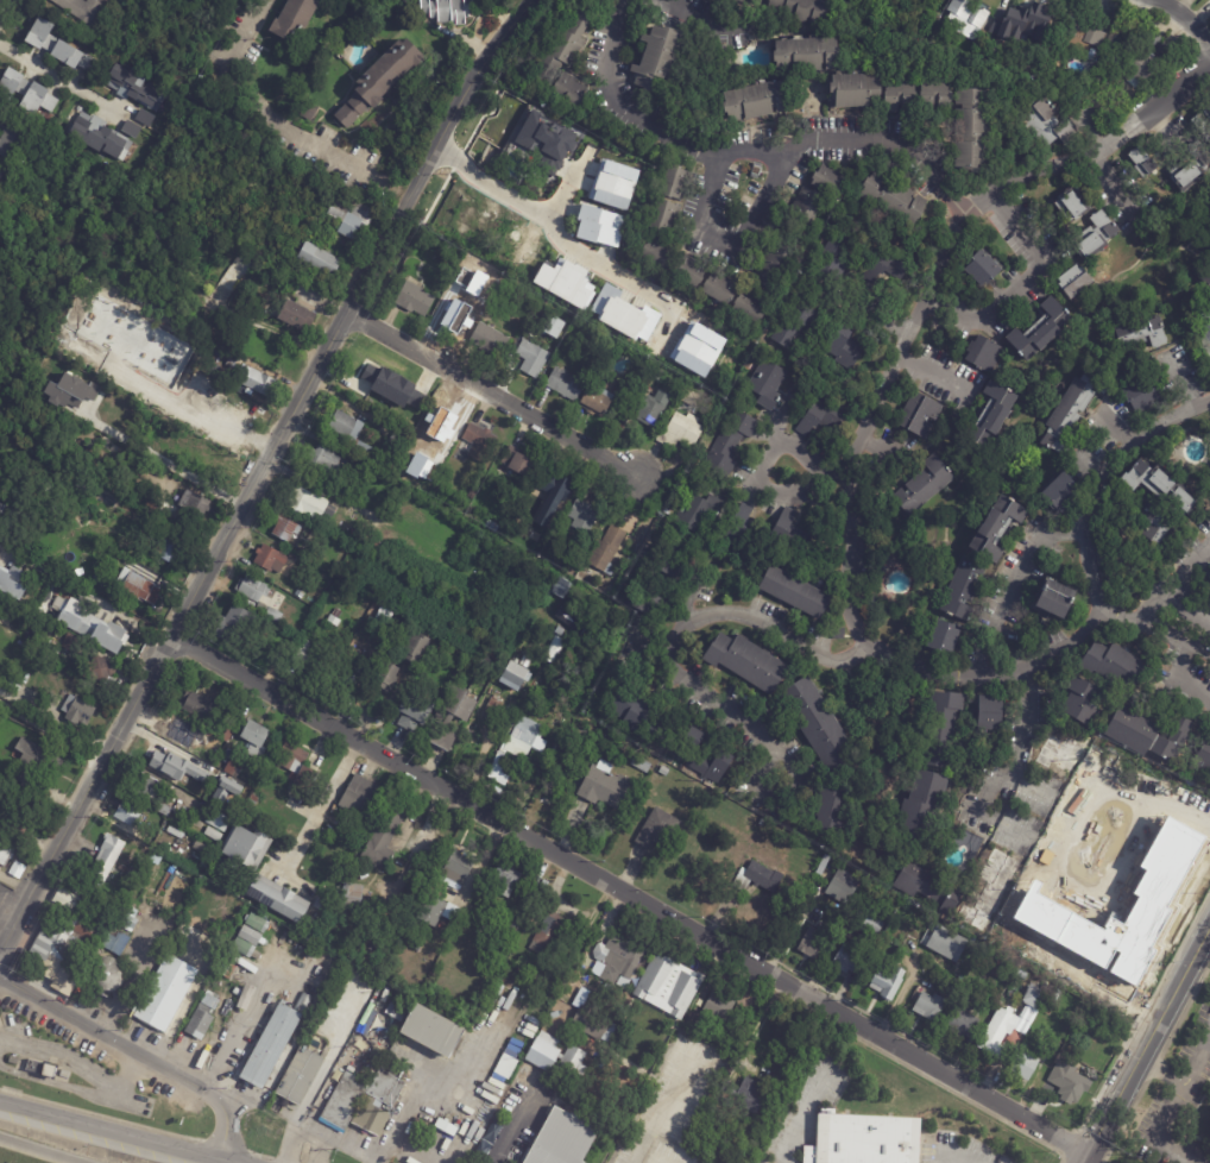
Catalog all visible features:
building: (408, 2)
building: (750, 2)
building: (81, 10)
building: (806, 10)
building: (448, 11)
road: (720, 12)
park: (906, 14)
road: (1185, 17)
building: (295, 20)
building: (965, 20)
building: (1022, 23)
building: (572, 39)
building: (1083, 39)
building: (58, 43)
building: (1006, 48)
building: (807, 56)
building: (660, 62)
building: (1143, 68)
road: (57, 80)
building: (379, 82)
building: (562, 83)
building: (136, 88)
building: (26, 89)
building: (859, 93)
building: (903, 98)
building: (940, 99)
road: (623, 101)
building: (758, 103)
road: (250, 106)
building: (308, 112)
building: (144, 118)
building: (1048, 124)
building: (1203, 127)
building: (130, 128)
building: (973, 132)
building: (97, 136)
building: (13, 138)
building: (544, 139)
building: (1142, 163)
building: (756, 170)
building: (1, 171)
building: (1192, 178)
building: (828, 181)
building: (612, 184)
building: (676, 184)
building: (516, 186)
road: (567, 187)
road: (1108, 187)
road: (768, 197)
building: (893, 200)
building: (1067, 205)
building: (1078, 205)
building: (808, 207)
building: (352, 214)
building: (666, 218)
road: (552, 224)
building: (599, 226)
building: (483, 230)
building: (1099, 239)
building: (661, 256)
building: (320, 257)
building: (837, 257)
building: (889, 266)
building: (775, 268)
building: (983, 269)
building: (237, 271)
building: (692, 272)
building: (1205, 274)
building: (537, 275)
building: (475, 276)
road: (1019, 279)
building: (496, 281)
building: (1074, 282)
building: (723, 291)
road: (924, 293)
building: (307, 295)
building: (415, 301)
building: (754, 308)
building: (296, 314)
building: (623, 314)
building: (453, 321)
building: (796, 326)
building: (1041, 332)
building: (1143, 335)
building: (254, 341)
building: (490, 341)
building: (846, 351)
building: (985, 356)
building: (532, 359)
road: (932, 373)
building: (257, 379)
road: (1181, 381)
building: (768, 385)
building: (565, 386)
building: (237, 388)
building: (370, 388)
building: (67, 391)
building: (402, 391)
road: (494, 394)
building: (1142, 395)
building: (598, 403)
building: (651, 409)
building: (1072, 411)
building: (824, 417)
building: (920, 417)
building: (989, 419)
building: (441, 421)
road: (1115, 427)
building: (349, 434)
building: (682, 436)
building: (399, 438)
building: (479, 444)
building: (731, 446)
building: (216, 458)
road: (165, 461)
building: (328, 464)
building: (358, 465)
building: (518, 465)
road: (823, 469)
road: (259, 472)
building: (554, 486)
building: (924, 486)
building: (1160, 488)
building: (1061, 491)
building: (195, 503)
building: (311, 507)
building: (699, 513)
building: (584, 518)
building: (997, 526)
building: (1154, 526)
building: (491, 527)
building: (285, 529)
building: (637, 534)
building: (744, 534)
building: (789, 538)
building: (125, 542)
building: (367, 545)
building: (171, 551)
building: (607, 552)
building: (271, 561)
building: (64, 566)
building: (336, 571)
building: (656, 576)
road: (1173, 579)
building: (13, 580)
road: (1014, 581)
building: (138, 586)
building: (252, 590)
building: (560, 590)
building: (965, 590)
building: (300, 595)
building: (794, 595)
building: (1055, 597)
road: (90, 598)
road: (1097, 602)
building: (889, 610)
road: (1184, 612)
building: (270, 614)
building: (384, 616)
building: (335, 618)
building: (370, 620)
building: (572, 624)
building: (89, 625)
road: (1153, 629)
building: (227, 631)
building: (840, 635)
building: (945, 637)
building: (70, 643)
building: (417, 650)
building: (555, 652)
building: (528, 662)
building: (746, 662)
building: (316, 664)
building: (1117, 667)
building: (100, 669)
road: (672, 671)
building: (351, 679)
building: (389, 680)
building: (518, 681)
road: (1191, 687)
building: (1080, 700)
building: (200, 706)
building: (491, 708)
building: (78, 711)
building: (989, 711)
building: (415, 715)
building: (509, 716)
building: (638, 716)
road: (55, 718)
building: (465, 724)
building: (820, 725)
building: (945, 727)
building: (175, 728)
building: (1130, 729)
building: (226, 734)
building: (688, 737)
building: (256, 740)
building: (1172, 741)
road: (484, 749)
building: (518, 749)
building: (158, 753)
building: (1060, 753)
building: (291, 755)
road: (1020, 755)
building: (705, 761)
building: (1200, 762)
building: (37, 766)
building: (175, 767)
building: (200, 767)
building: (642, 767)
building: (233, 768)
building: (664, 772)
building: (145, 787)
building: (227, 788)
building: (605, 788)
road: (1032, 790)
road: (322, 799)
building: (363, 801)
building: (252, 803)
building: (832, 807)
building: (165, 810)
building: (925, 812)
building: (128, 815)
road: (992, 816)
building: (18, 819)
building: (218, 821)
building: (345, 829)
building: (658, 832)
building: (214, 834)
building: (384, 837)
building: (246, 848)
building: (1122, 850)
building: (5, 855)
building: (1148, 861)
building: (106, 862)
building: (458, 868)
building: (333, 870)
building: (152, 873)
building: (508, 880)
building: (760, 881)
building: (922, 881)
building: (67, 884)
building: (473, 884)
building: (840, 886)
building: (326, 887)
building: (994, 889)
road: (629, 893)
building: (277, 898)
building: (353, 898)
building: (953, 903)
building: (828, 909)
building: (472, 910)
building: (430, 911)
building: (130, 922)
building: (871, 923)
building: (515, 926)
building: (252, 929)
building: (358, 929)
building: (63, 937)
building: (557, 938)
building: (118, 942)
building: (811, 942)
building: (950, 944)
building: (242, 948)
building: (620, 960)
building: (847, 960)
building: (1048, 960)
building: (1082, 968)
building: (1003, 972)
road: (138, 974)
building: (108, 975)
building: (244, 976)
building: (889, 983)
building: (667, 985)
building: (165, 994)
building: (1034, 1004)
building: (720, 1005)
building: (929, 1007)
road: (183, 1011)
building: (555, 1016)
building: (595, 1016)
building: (202, 1017)
road: (239, 1020)
building: (963, 1023)
building: (689, 1026)
building: (549, 1029)
building: (433, 1030)
building: (316, 1031)
building: (1000, 1032)
building: (275, 1043)
building: (616, 1043)
road: (1146, 1045)
road: (139, 1052)
building: (556, 1058)
building: (14, 1061)
building: (1025, 1063)
building: (506, 1067)
building: (40, 1070)
road: (453, 1071)
building: (300, 1077)
road: (1184, 1080)
building: (1071, 1085)
building: (751, 1096)
building: (363, 1104)
road: (803, 1120)
road: (516, 1125)
building: (494, 1131)
road: (113, 1132)
road: (295, 1133)
road: (1155, 1133)
building: (864, 1139)
building: (563, 1140)
road: (339, 1143)
road: (34, 1152)
road: (407, 1152)
building: (483, 1152)
building: (761, 1161)

